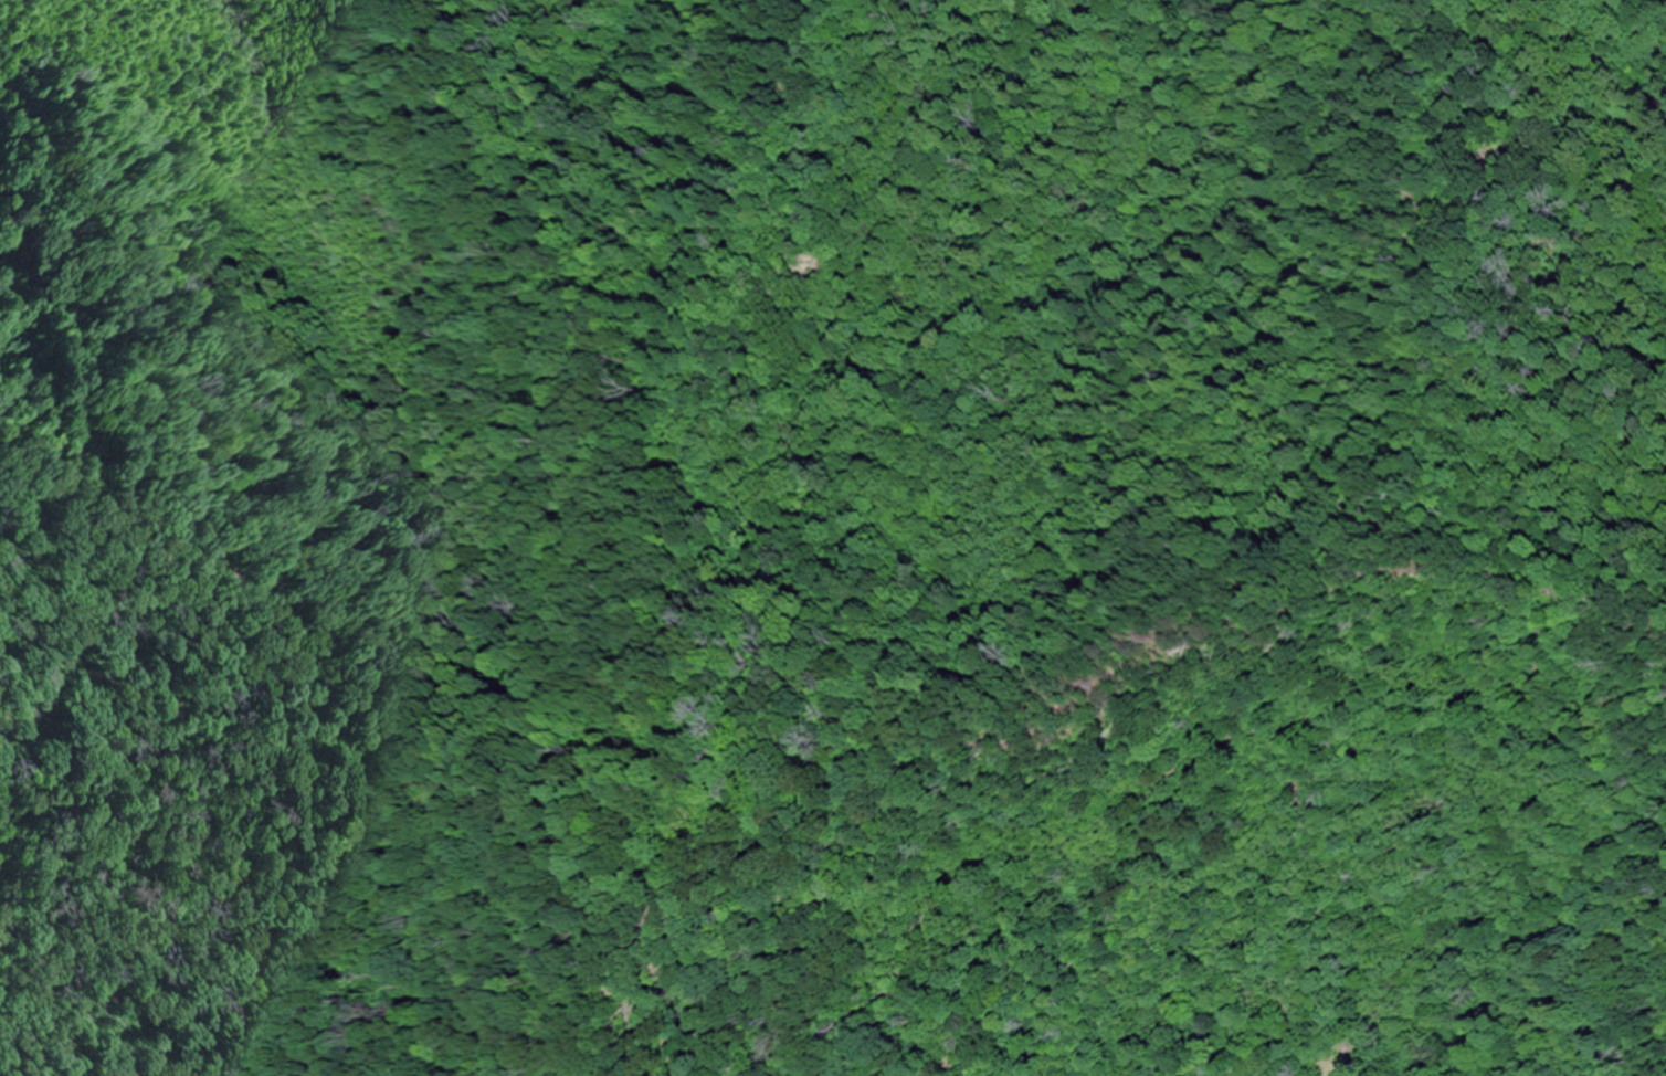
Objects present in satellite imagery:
road: (1529, 936)
road: (1571, 942)

